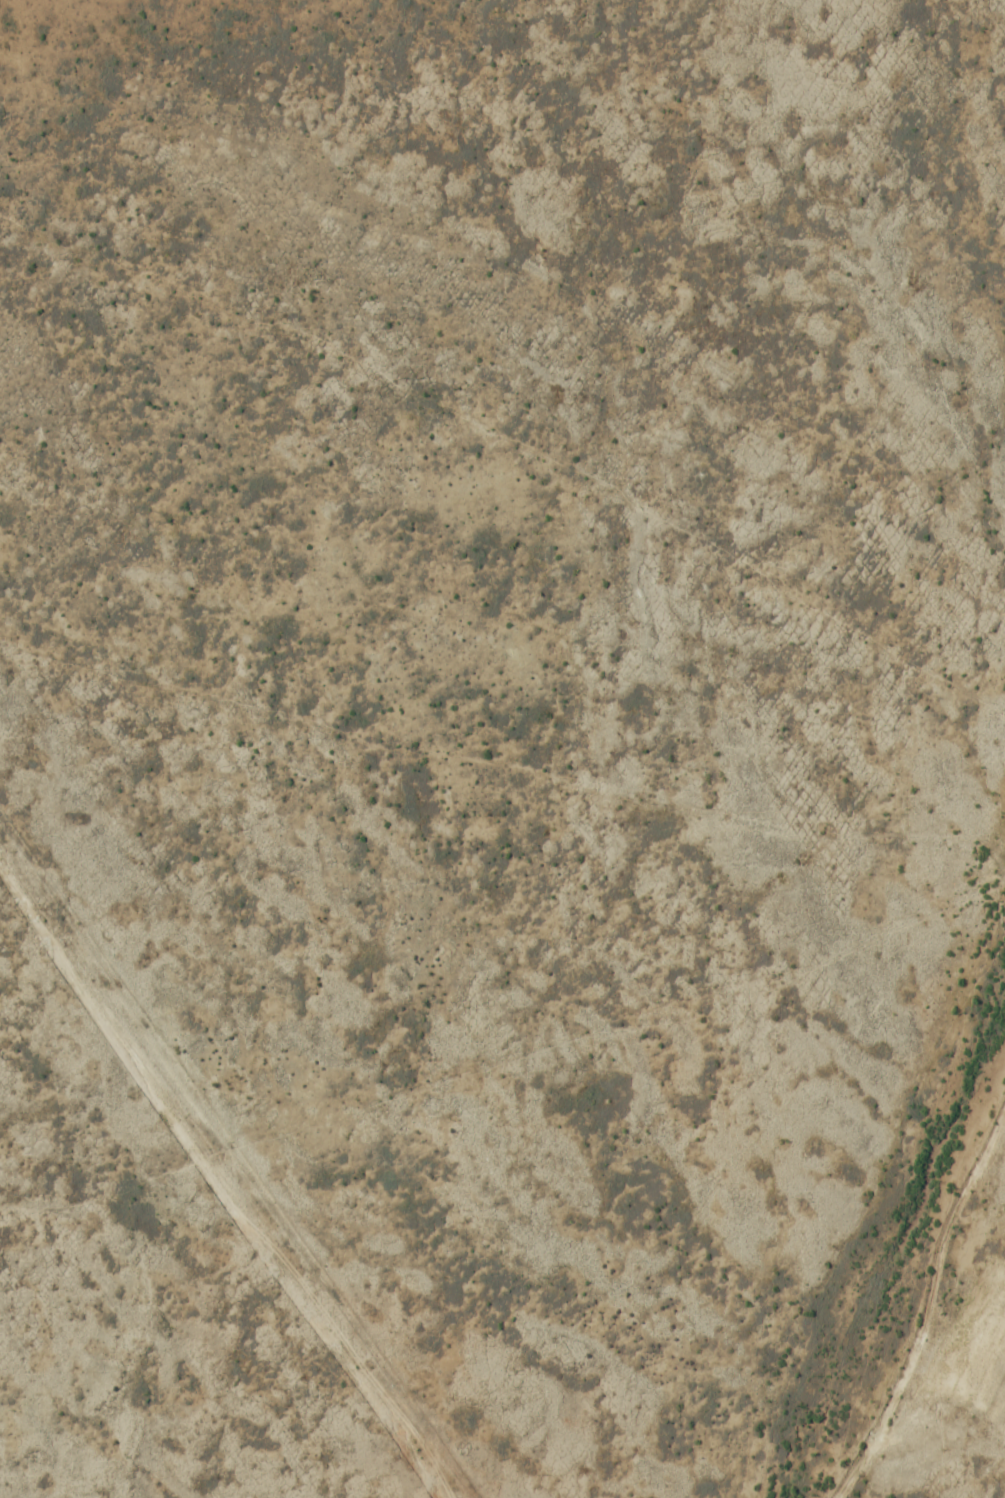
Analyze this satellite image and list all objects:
road: (221, 1175)
road: (931, 1307)

